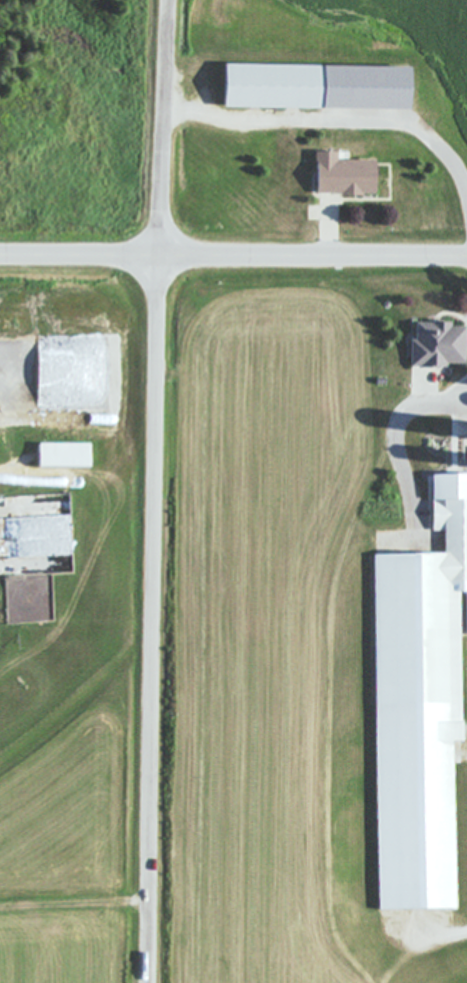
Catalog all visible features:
building: (310, 87)
road: (333, 120)
building: (337, 176)
road: (331, 234)
road: (233, 256)
building: (432, 346)
building: (459, 437)
road: (393, 438)
building: (58, 456)
road: (157, 491)
road: (433, 734)

